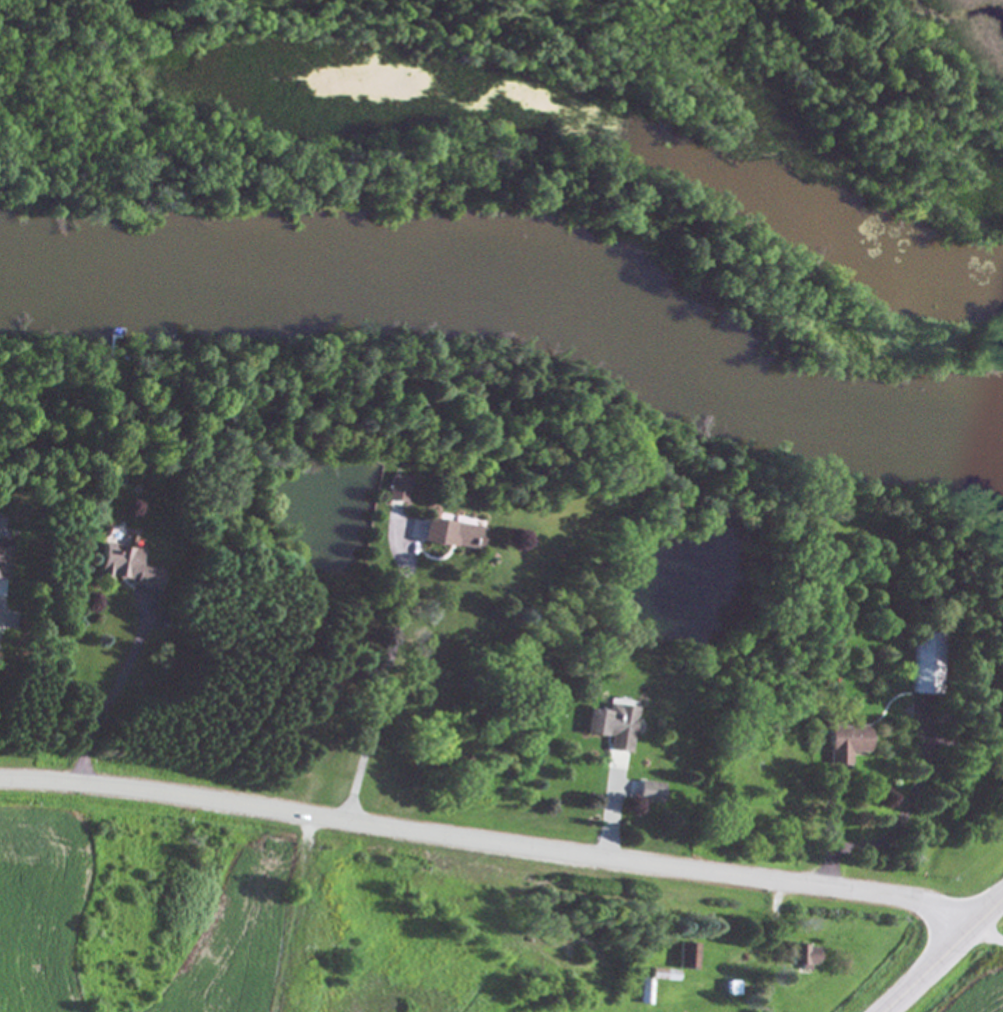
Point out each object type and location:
river: (519, 283)
building: (397, 488)
building: (452, 534)
building: (4, 554)
building: (128, 568)
road: (0, 623)
building: (928, 664)
road: (389, 682)
road: (114, 696)
building: (613, 726)
building: (845, 743)
building: (651, 792)
road: (913, 810)
road: (611, 816)
road: (833, 835)
road: (488, 839)
road: (779, 904)
road: (986, 935)
road: (942, 954)
building: (688, 956)
building: (804, 956)
building: (646, 992)

